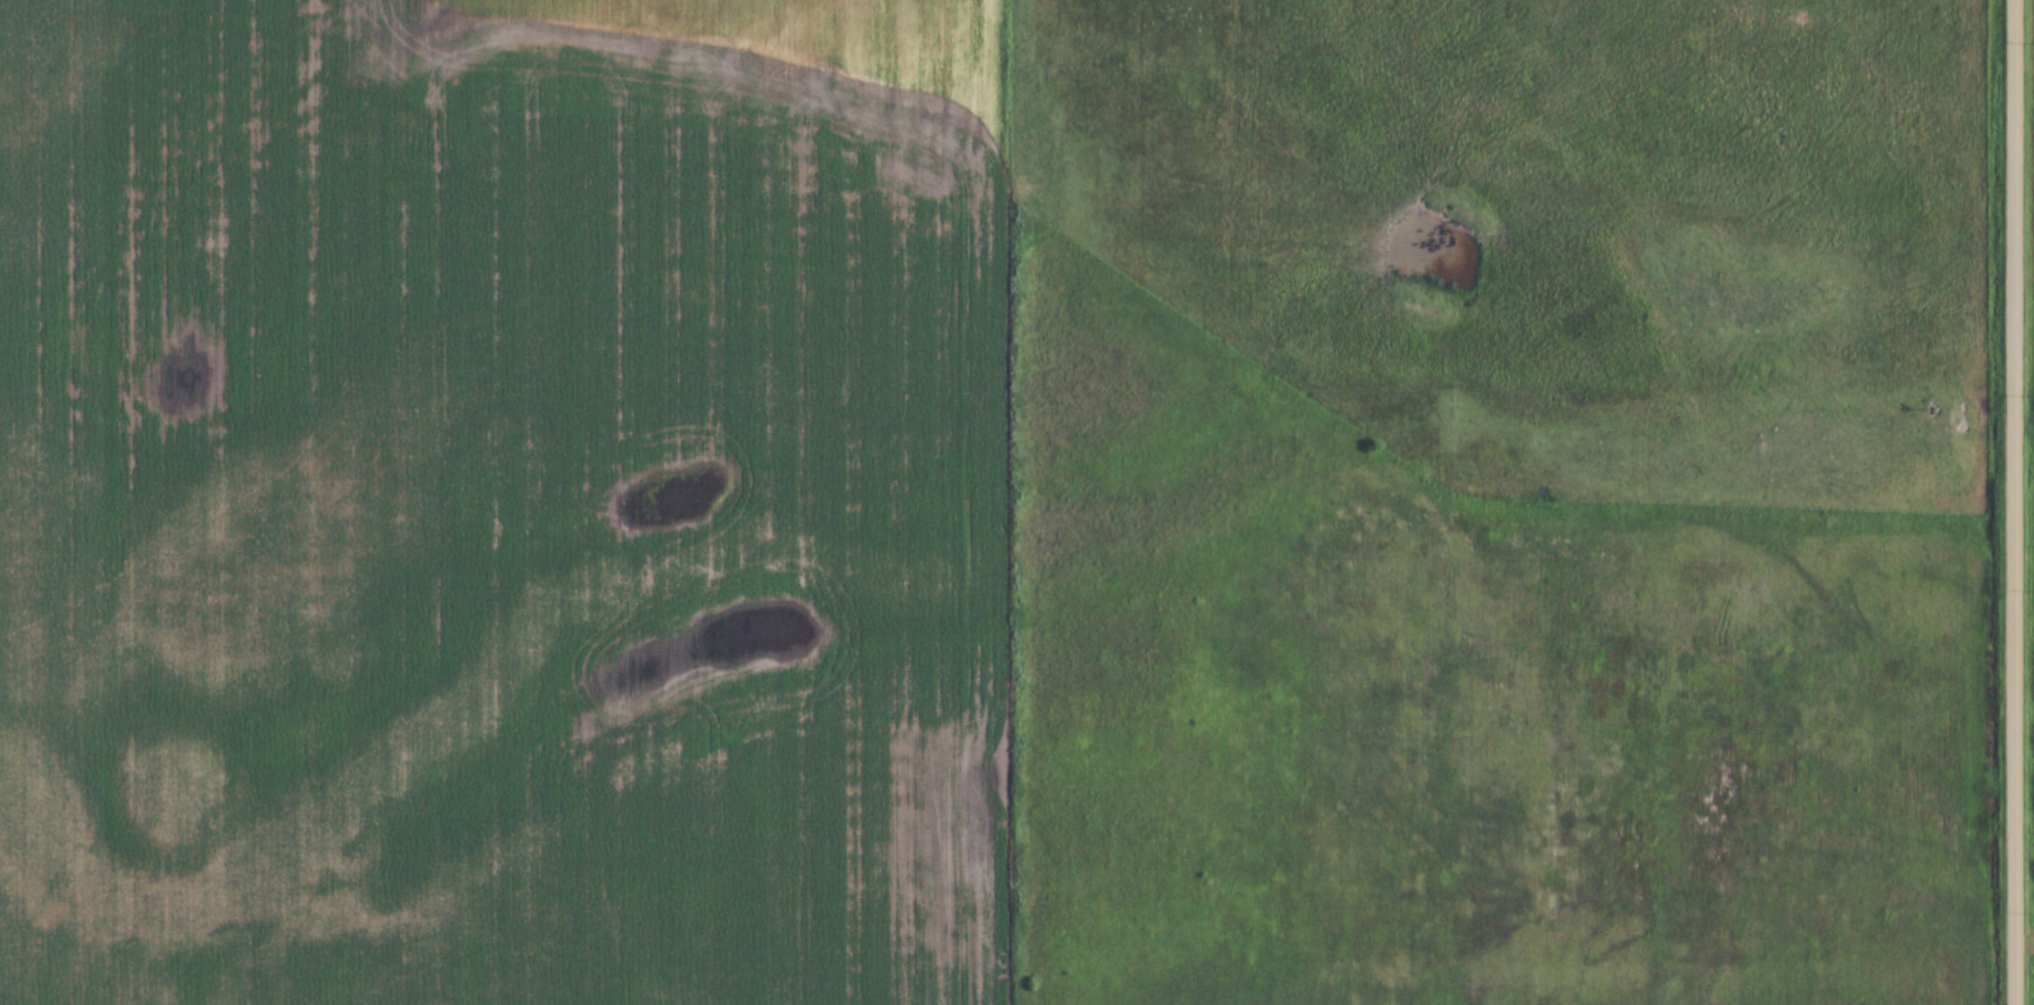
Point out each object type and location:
road: (2012, 502)

